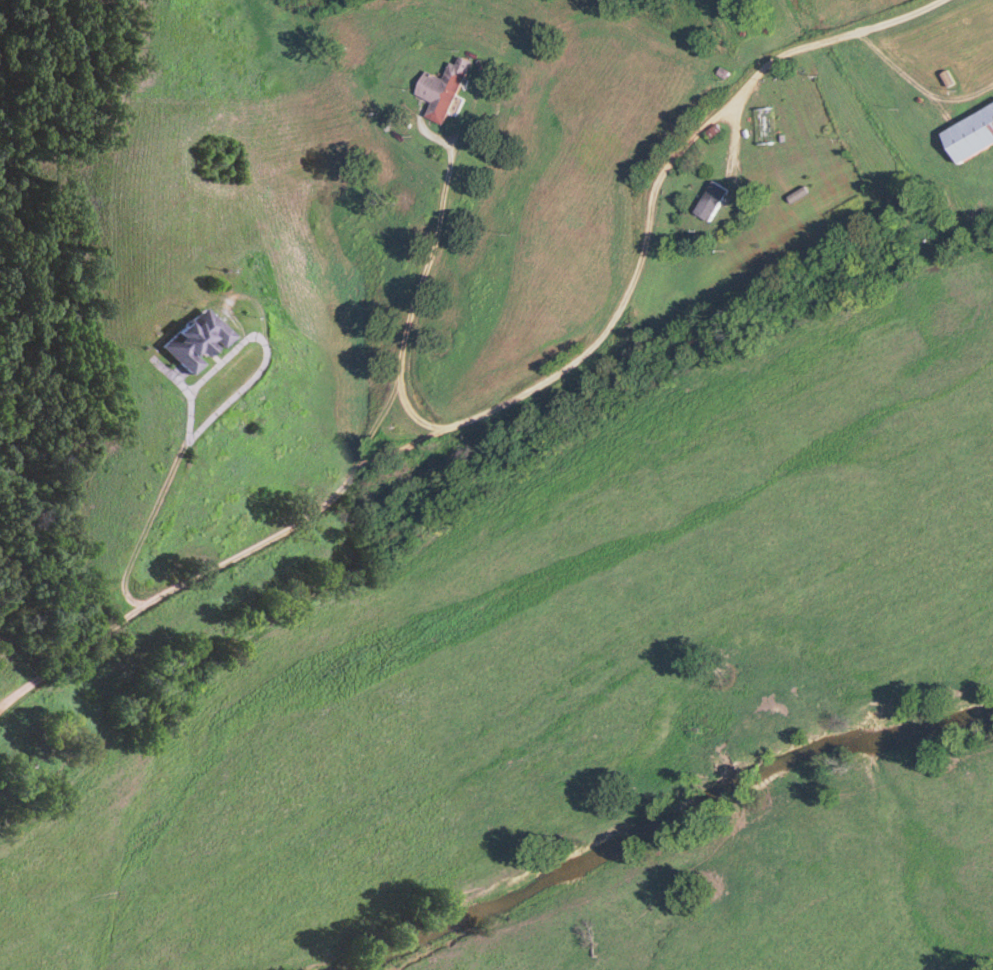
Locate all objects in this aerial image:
building: (443, 90)
building: (767, 127)
building: (973, 135)
building: (716, 201)
road: (407, 286)
building: (194, 341)
road: (524, 397)
road: (413, 424)
road: (168, 466)

